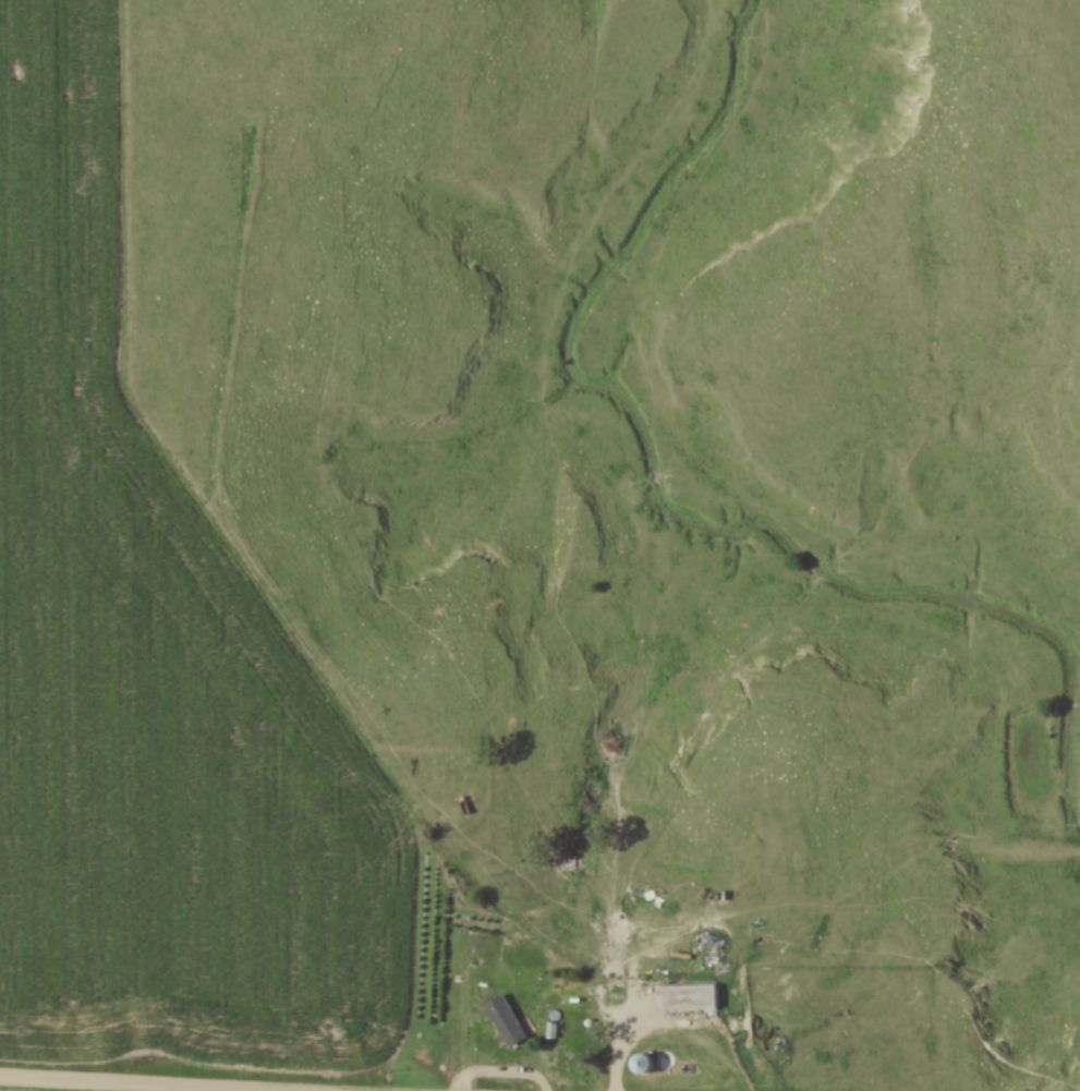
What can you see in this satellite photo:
building: (693, 1001)
road: (667, 1023)
building: (755, 1027)
building: (587, 1030)
road: (175, 1083)

